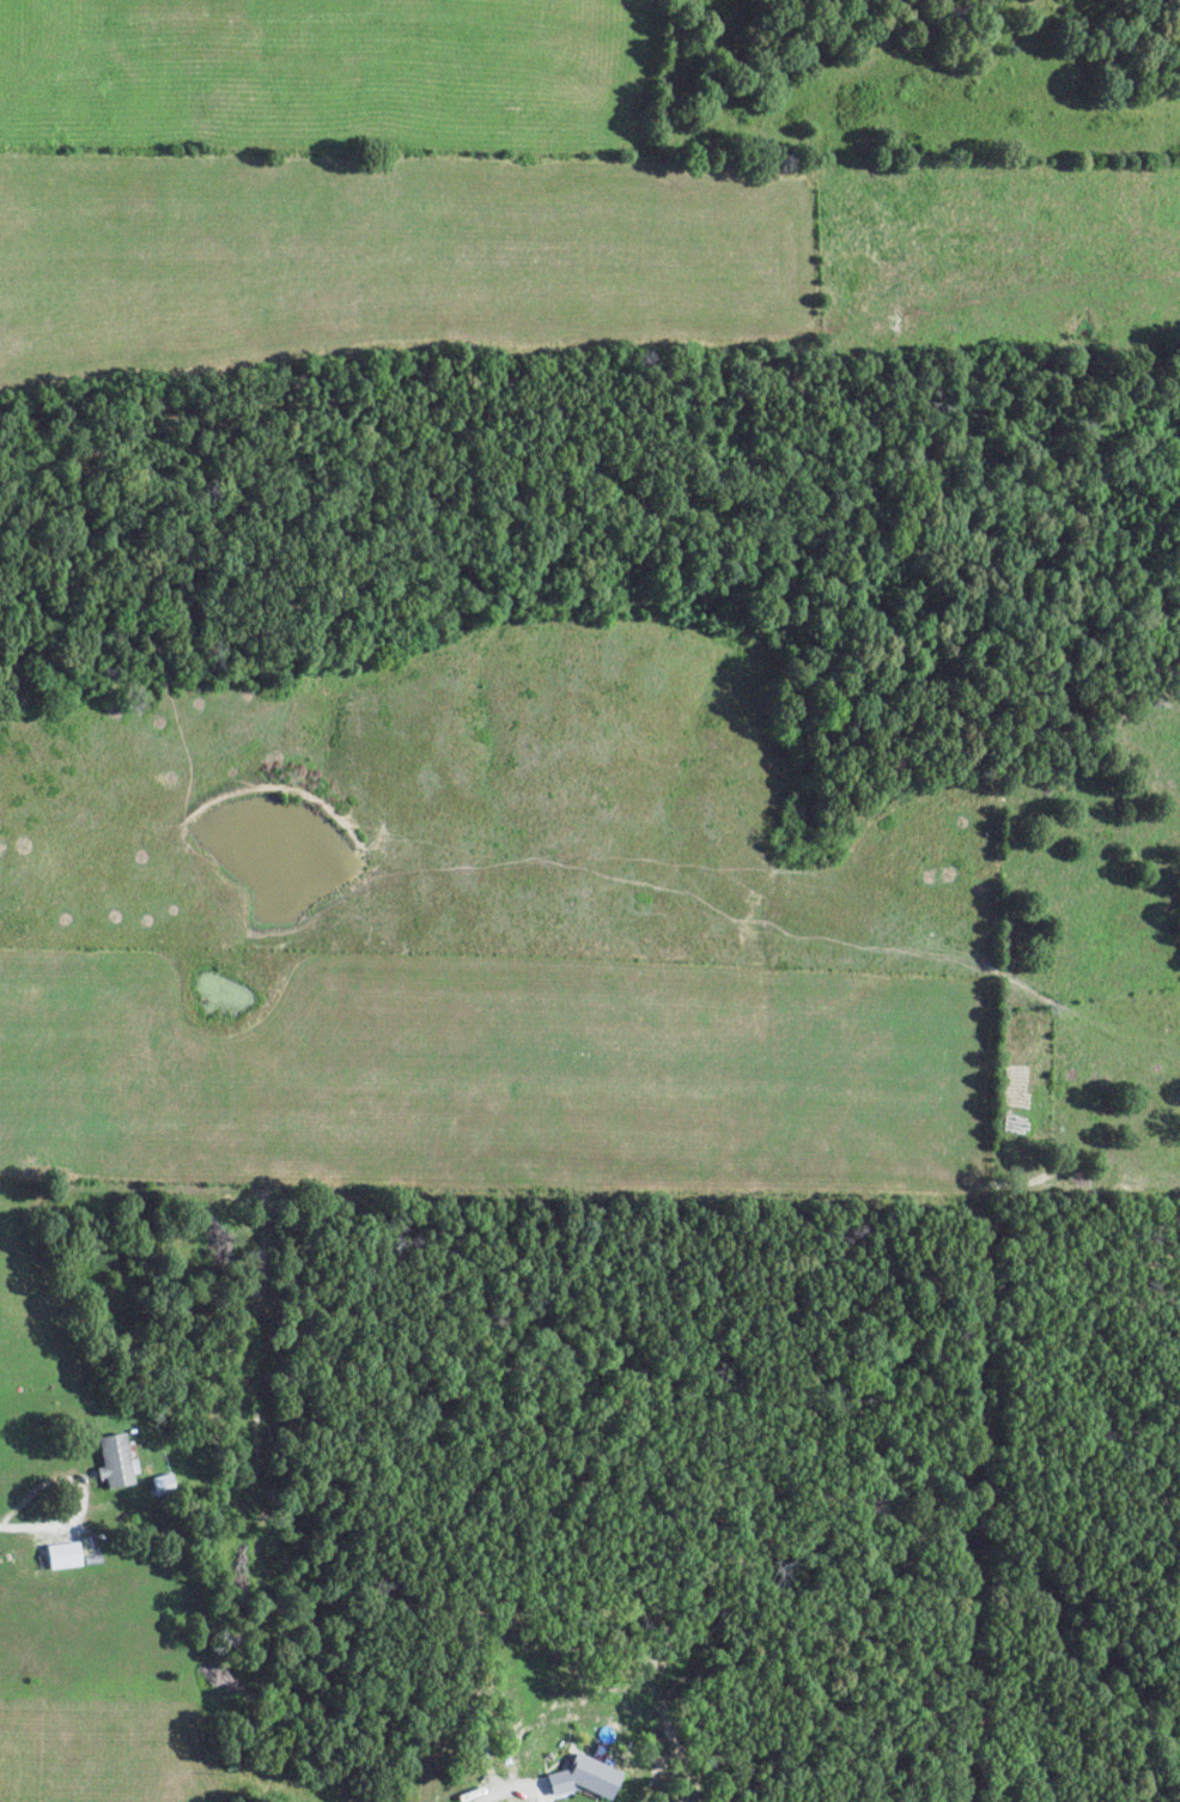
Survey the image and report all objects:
building: (115, 1461)
building: (163, 1485)
road: (2, 1525)
building: (63, 1555)
road: (378, 1747)
building: (588, 1777)

